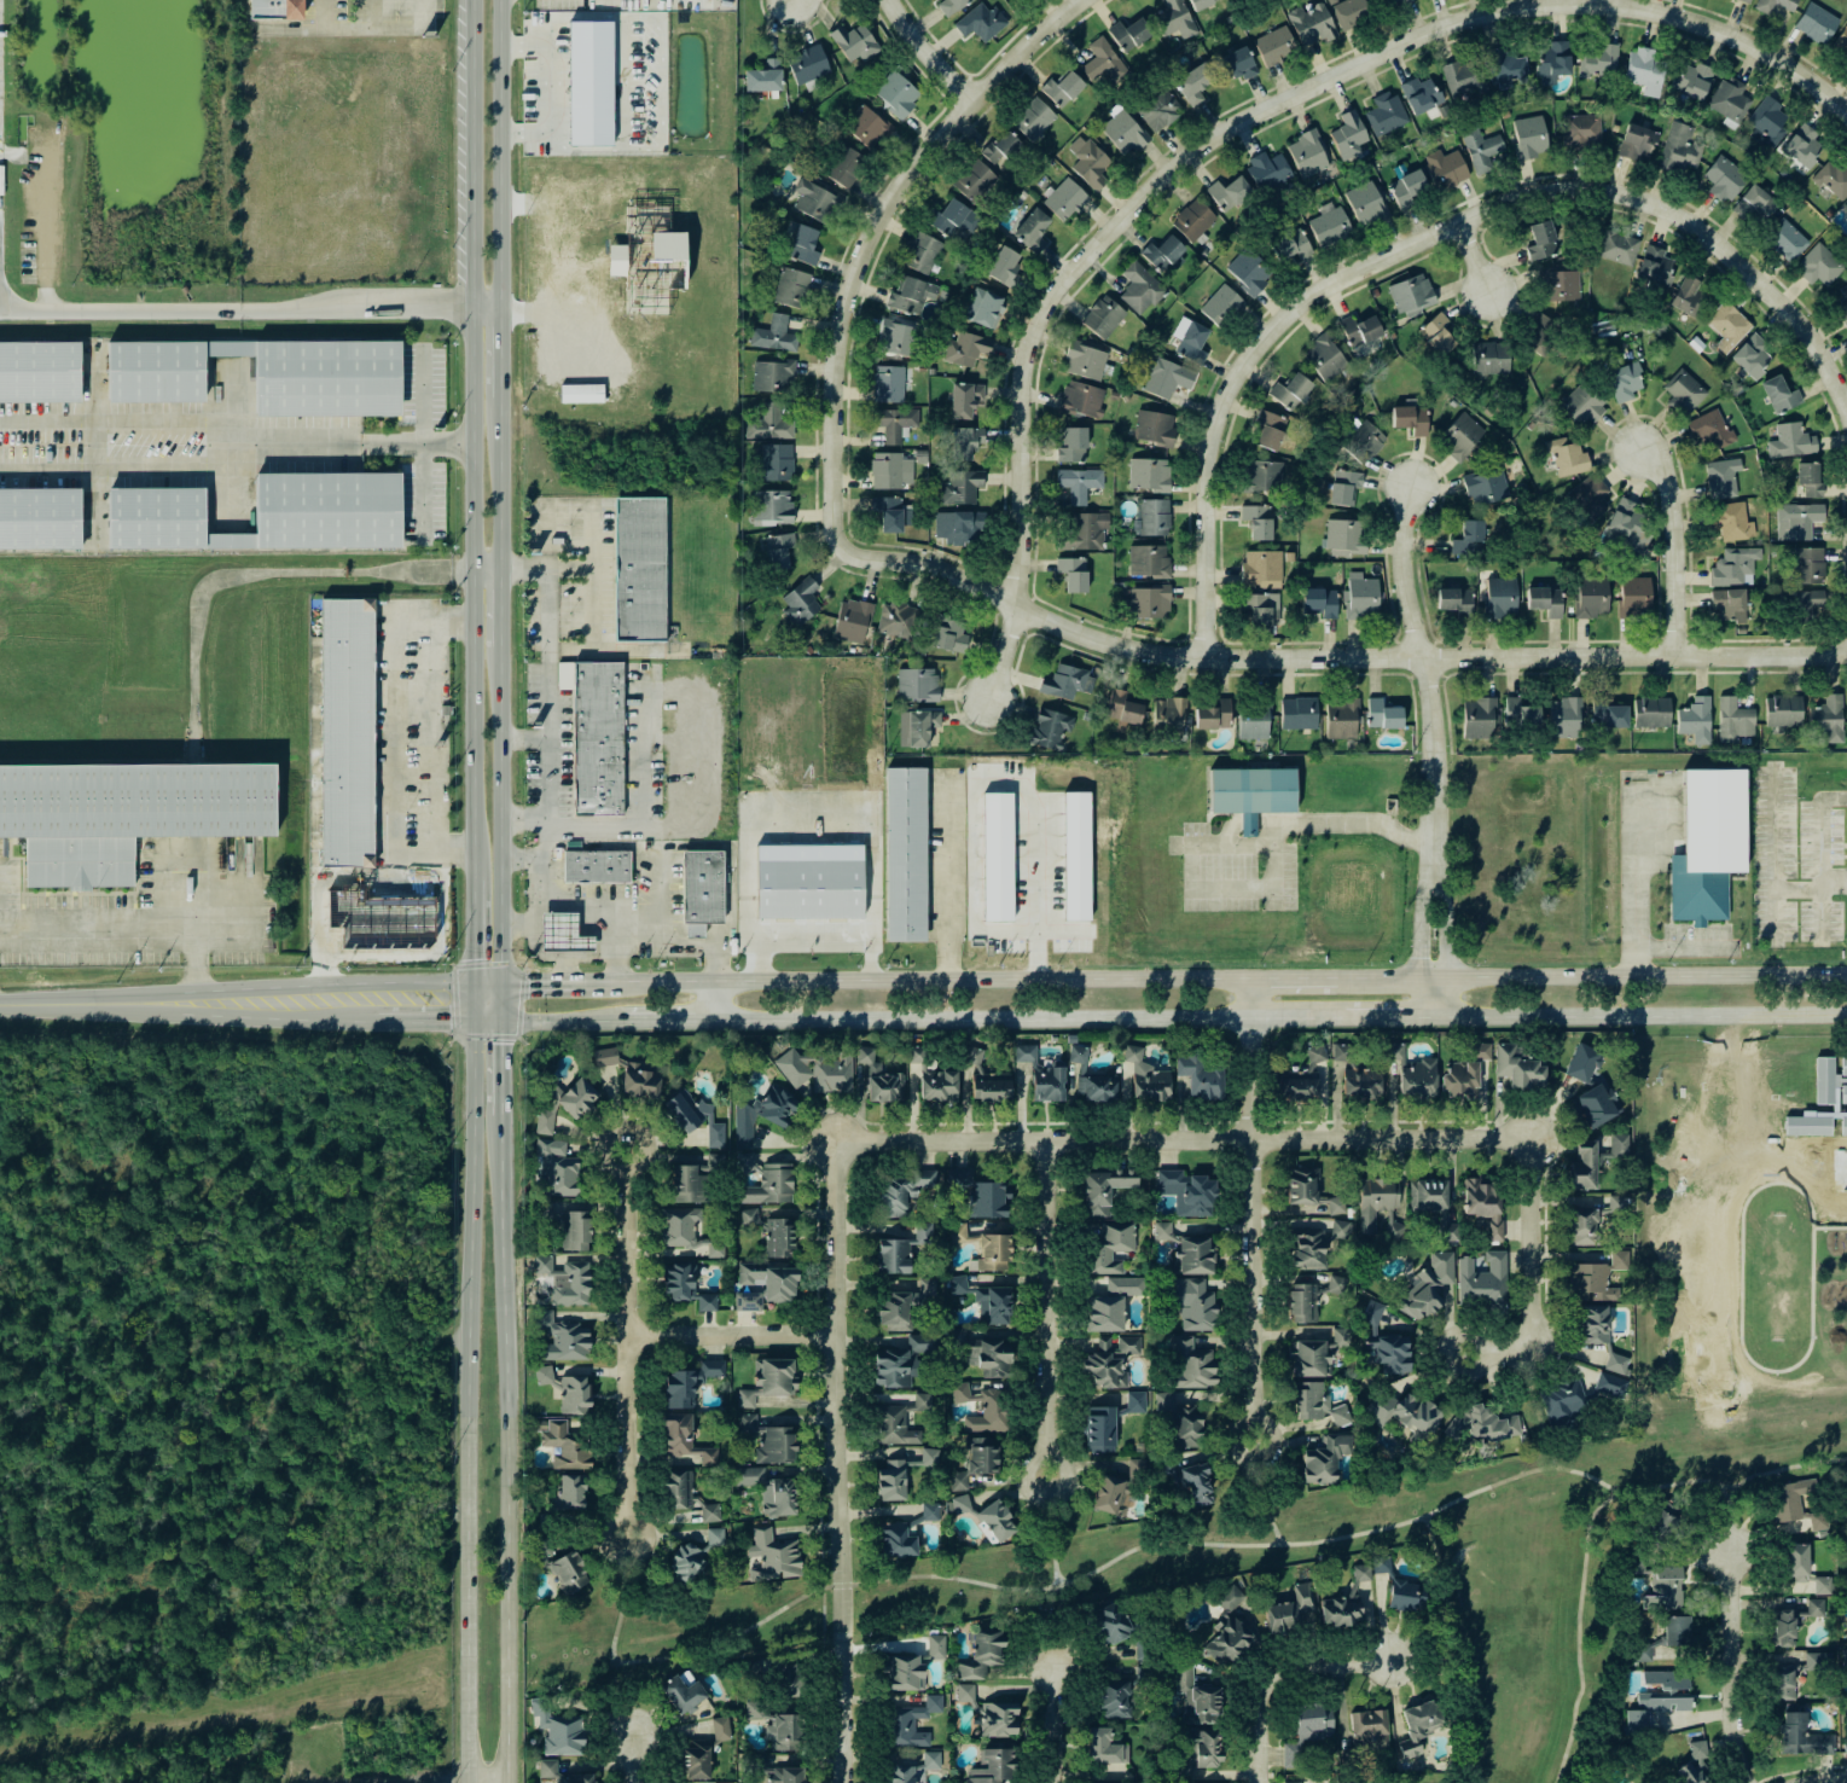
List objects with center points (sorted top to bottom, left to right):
building: (1746, 0)
road: (1602, 1)
building: (1386, 2)
building: (1201, 4)
building: (1775, 5)
building: (949, 6)
road: (319, 7)
building: (275, 11)
building: (1352, 12)
building: (1175, 18)
building: (981, 22)
building: (1816, 23)
road: (374, 24)
building: (1311, 24)
building: (1129, 34)
road: (1733, 39)
building: (1842, 39)
building: (854, 42)
building: (1274, 46)
road: (923, 52)
building: (1553, 60)
building: (1598, 60)
building: (1104, 62)
building: (807, 64)
building: (1236, 64)
building: (1506, 69)
building: (1645, 71)
building: (763, 77)
building: (1463, 79)
building: (1692, 80)
building: (589, 83)
building: (1195, 83)
building: (1062, 88)
road: (556, 89)
building: (896, 93)
building: (1419, 94)
building: (1729, 103)
building: (1158, 110)
building: (1384, 114)
building: (1033, 118)
building: (1767, 122)
building: (866, 127)
building: (1580, 132)
building: (1122, 133)
building: (1348, 135)
building: (1529, 137)
building: (1637, 141)
building: (1802, 145)
building: (1001, 147)
building: (1480, 147)
building: (1679, 150)
road: (498, 152)
building: (1307, 153)
building: (1087, 162)
building: (844, 167)
building: (1445, 168)
building: (1267, 170)
road: (1162, 174)
building: (1724, 178)
building: (1833, 179)
building: (974, 181)
building: (1406, 187)
building: (1229, 193)
building: (1064, 199)
building: (814, 201)
building: (1365, 203)
building: (1754, 205)
building: (1845, 208)
building: (956, 219)
building: (1192, 220)
building: (1328, 223)
road: (1692, 226)
building: (1032, 231)
building: (1540, 240)
building: (1787, 240)
building: (1290, 244)
building: (803, 245)
building: (1617, 248)
building: (922, 252)
building: (1162, 252)
road: (1473, 260)
building: (1819, 265)
building: (1654, 266)
building: (1004, 267)
building: (1249, 271)
building: (1561, 285)
building: (791, 288)
building: (1140, 289)
building: (910, 295)
building: (1412, 295)
building: (1689, 298)
building: (1841, 302)
building: (1221, 304)
road: (482, 306)
road: (233, 307)
building: (983, 308)
building: (1103, 316)
road: (852, 318)
building: (1727, 326)
building: (1359, 330)
building: (1436, 333)
building: (1539, 333)
building: (773, 335)
building: (898, 337)
building: (1190, 339)
building: (965, 349)
building: (1752, 355)
building: (1324, 358)
building: (1489, 358)
road: (498, 360)
building: (1085, 360)
building: (36, 371)
building: (259, 373)
building: (772, 376)
building: (1166, 378)
building: (1624, 381)
road: (1231, 382)
building: (888, 383)
building: (1290, 391)
building: (581, 393)
building: (1683, 393)
building: (1779, 394)
building: (964, 399)
building: (1081, 399)
building: (1581, 405)
building: (1410, 419)
road: (105, 420)
building: (894, 423)
building: (769, 424)
building: (1154, 428)
building: (1267, 430)
building: (1709, 430)
road: (422, 436)
road: (466, 437)
building: (1460, 437)
building: (1790, 441)
road: (333, 442)
building: (965, 442)
building: (1364, 442)
road: (94, 445)
building: (1071, 445)
road: (221, 455)
building: (1567, 457)
building: (777, 461)
road: (106, 470)
building: (890, 471)
building: (1149, 475)
building: (1262, 476)
building: (1721, 478)
building: (1808, 480)
building: (1078, 483)
building: (1485, 486)
building: (960, 487)
building: (1344, 487)
road: (496, 493)
building: (1591, 496)
building: (771, 507)
building: (888, 512)
building: (259, 513)
building: (36, 518)
building: (1152, 518)
building: (1800, 518)
building: (1258, 521)
building: (1735, 522)
building: (960, 525)
building: (1626, 525)
building: (1085, 532)
building: (1346, 538)
building: (1468, 539)
road: (1673, 545)
building: (779, 550)
building: (1148, 561)
building: (1807, 565)
building: (1733, 567)
road: (569, 568)
building: (1261, 568)
building: (638, 570)
road: (482, 573)
road: (591, 574)
building: (1073, 574)
road: (249, 575)
building: (1361, 597)
building: (1500, 597)
building: (1591, 597)
building: (1634, 597)
building: (1453, 599)
building: (1545, 600)
building: (800, 602)
building: (1318, 602)
building: (1146, 603)
building: (1808, 604)
building: (1727, 605)
building: (1261, 609)
road: (496, 612)
building: (853, 620)
building: (898, 620)
building: (949, 634)
road: (1000, 654)
road: (1425, 657)
building: (1065, 683)
building: (917, 685)
building: (1122, 709)
building: (1783, 710)
building: (1651, 712)
building: (1299, 713)
building: (1520, 713)
building: (1608, 713)
building: (1168, 714)
building: (1213, 714)
building: (1382, 714)
building: (1479, 718)
building: (1563, 718)
building: (1341, 719)
building: (1826, 719)
building: (1253, 720)
building: (1695, 720)
building: (1733, 720)
building: (916, 727)
building: (1050, 728)
building: (345, 732)
road: (521, 738)
building: (596, 741)
road: (395, 747)
road: (1431, 750)
road: (434, 754)
road: (546, 779)
building: (1251, 792)
road: (313, 800)
road: (805, 811)
building: (124, 814)
road: (496, 819)
road: (1329, 823)
road: (657, 825)
road: (1773, 827)
building: (1707, 844)
road: (451, 849)
building: (905, 856)
building: (997, 856)
building: (1076, 856)
road: (521, 859)
building: (594, 869)
road: (940, 884)
road: (1632, 884)
road: (1783, 885)
building: (701, 888)
building: (808, 896)
road: (1038, 898)
road: (530, 908)
road: (124, 928)
road: (465, 931)
building: (562, 934)
gas station: (562, 935)
road: (361, 936)
road: (696, 945)
road: (815, 945)
road: (1683, 947)
road: (540, 956)
road: (562, 970)
road: (1588, 981)
road: (1290, 982)
road: (913, 985)
traffic signals: (465, 986)
road: (481, 986)
traffic signals: (496, 986)
road: (538, 986)
road: (232, 993)
road: (465, 1001)
road: (496, 1001)
road: (91, 1006)
road: (279, 1014)
road: (1640, 1016)
road: (420, 1018)
traffic signals: (465, 1018)
road: (481, 1018)
traffic signals: (496, 1018)
road: (556, 1018)
road: (662, 1018)
road: (1390, 1018)
road: (1028, 1020)
building: (1480, 1050)
building: (1340, 1052)
building: (916, 1053)
building: (1315, 1055)
building: (604, 1057)
building: (1582, 1063)
building: (1843, 1065)
building: (1517, 1068)
building: (817, 1070)
road: (496, 1073)
building: (1413, 1073)
building: (1042, 1074)
building: (1201, 1075)
building: (879, 1078)
building: (1146, 1078)
building: (985, 1080)
building: (1459, 1080)
building: (1824, 1080)
building: (1360, 1081)
building: (640, 1082)
building: (937, 1085)
building: (1097, 1087)
building: (1843, 1093)
building: (563, 1103)
road: (466, 1104)
building: (1595, 1105)
building: (760, 1114)
building: (695, 1119)
building: (1831, 1127)
road: (1180, 1140)
building: (1593, 1160)
building: (745, 1162)
building: (711, 1163)
building: (556, 1169)
building: (957, 1177)
building: (687, 1185)
building: (769, 1185)
building: (1103, 1189)
building: (902, 1191)
building: (1186, 1191)
building: (1309, 1191)
building: (1428, 1195)
building: (988, 1201)
road: (1248, 1204)
building: (1483, 1204)
building: (1615, 1204)
building: (1378, 1206)
building: (1582, 1226)
building: (575, 1230)
building: (686, 1231)
building: (771, 1232)
building: (957, 1232)
building: (1315, 1243)
building: (1111, 1248)
building: (901, 1249)
building: (1186, 1250)
building: (993, 1253)
road: (1535, 1276)
building: (1596, 1277)
building: (1482, 1280)
building: (571, 1284)
building: (765, 1284)
building: (1336, 1284)
building: (1125, 1285)
building: (1427, 1285)
building: (685, 1287)
building: (927, 1288)
building: (985, 1300)
building: (1303, 1302)
building: (1192, 1303)
road: (1042, 1308)
building: (894, 1311)
building: (1104, 1313)
building: (1593, 1324)
road: (728, 1332)
building: (567, 1342)
road: (622, 1343)
building: (1383, 1343)
building: (983, 1353)
building: (1315, 1354)
building: (902, 1360)
building: (1109, 1363)
building: (1616, 1363)
building: (1191, 1364)
building: (768, 1381)
building: (689, 1383)
building: (1610, 1384)
building: (565, 1390)
building: (1133, 1402)
building: (1561, 1402)
building: (1317, 1404)
building: (983, 1407)
road: (1533, 1407)
building: (1405, 1415)
building: (900, 1421)
building: (1180, 1421)
building: (1480, 1424)
building: (1098, 1429)
building: (684, 1439)
building: (563, 1446)
road: (504, 1454)
building: (981, 1454)
building: (929, 1457)
building: (1324, 1459)
road: (836, 1464)
building: (1168, 1474)
building: (890, 1481)
building: (958, 1481)
building: (1197, 1485)
road: (1258, 1485)
road: (461, 1486)
building: (768, 1489)
building: (675, 1491)
building: (569, 1492)
building: (1110, 1495)
building: (1795, 1503)
building: (958, 1504)
road: (1752, 1508)
building: (1845, 1509)
building: (930, 1511)
building: (709, 1512)
building: (997, 1521)
road: (1593, 1521)
building: (1662, 1521)
road: (1049, 1529)
building: (895, 1540)
road: (1231, 1543)
park: (1506, 1555)
building: (695, 1556)
building: (772, 1556)
building: (1796, 1562)
building: (569, 1572)
park: (1029, 1575)
building: (1822, 1585)
building: (1667, 1586)
building: (1229, 1598)
building: (1346, 1601)
building: (1290, 1609)
park: (673, 1620)
road: (1050, 1621)
building: (1791, 1621)
building: (1110, 1622)
road: (614, 1628)
building: (1677, 1630)
road: (727, 1637)
building: (1227, 1639)
building: (935, 1646)
building: (1643, 1651)
building: (981, 1655)
building: (1817, 1660)
building: (1846, 1660)
road: (1738, 1666)
building: (748, 1668)
building: (904, 1672)
building: (1666, 1679)
road: (1282, 1680)
building: (1784, 1680)
building: (964, 1692)
building: (683, 1694)
building: (1195, 1696)
building: (1115, 1698)
building: (1653, 1708)
building: (998, 1719)
road: (1049, 1720)
building: (911, 1721)
building: (1418, 1726)
building: (776, 1727)
building: (720, 1729)
building: (1369, 1729)
building: (558, 1730)
building: (1306, 1732)
building: (1801, 1736)
road: (640, 1746)
building: (1104, 1747)
building: (1202, 1748)
building: (695, 1761)
building: (1694, 1764)
building: (993, 1766)
building: (912, 1770)
building: (563, 1773)
building: (785, 1775)
road: (1829, 1779)
building: (1291, 1782)

